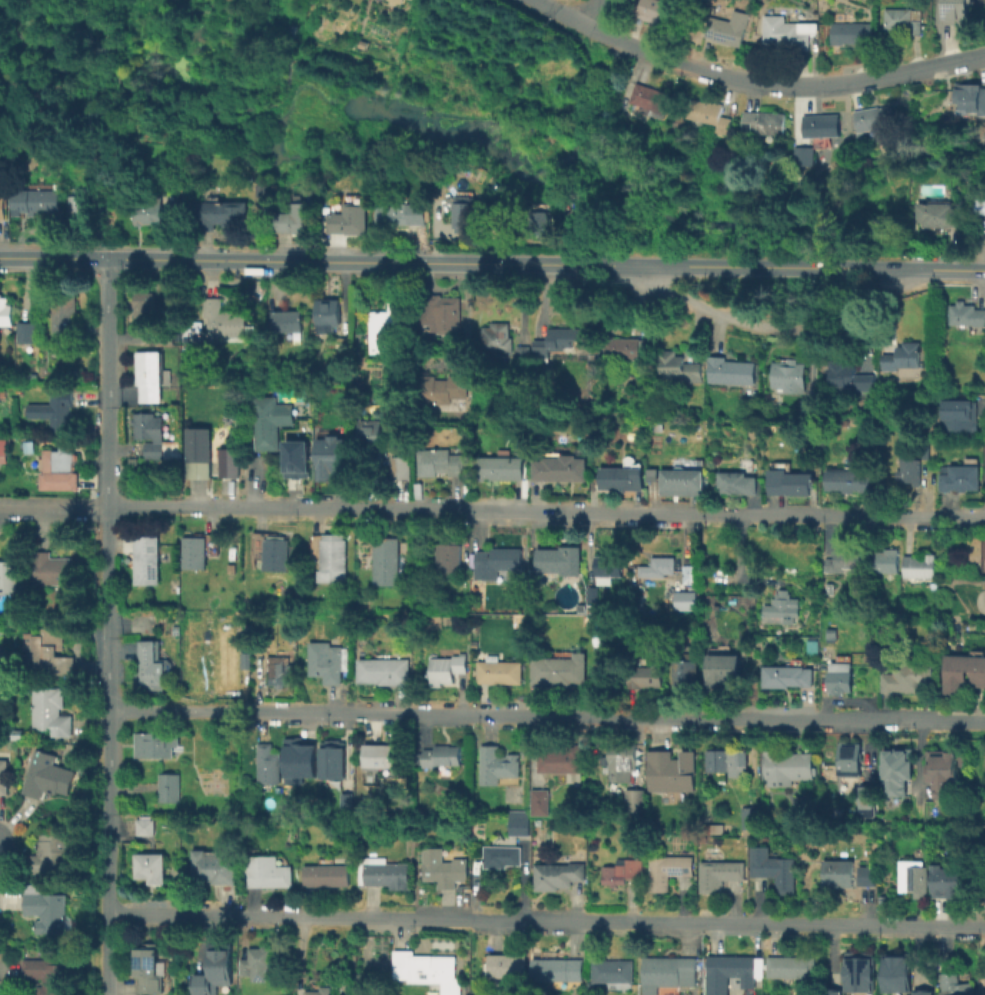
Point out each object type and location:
building: (395, 1)
building: (657, 11)
building: (957, 11)
road: (601, 15)
building: (904, 19)
building: (725, 31)
building: (786, 32)
building: (850, 32)
road: (752, 82)
building: (970, 97)
building: (651, 98)
building: (709, 114)
building: (874, 117)
building: (764, 122)
building: (821, 125)
road: (601, 153)
building: (804, 155)
building: (262, 190)
building: (101, 191)
building: (39, 200)
building: (981, 206)
road: (592, 207)
building: (3, 208)
building: (82, 209)
building: (150, 212)
building: (466, 213)
building: (221, 214)
building: (401, 214)
building: (942, 214)
building: (297, 218)
building: (350, 219)
building: (539, 223)
road: (571, 238)
road: (54, 258)
road: (546, 264)
building: (146, 306)
building: (6, 311)
building: (442, 311)
building: (329, 314)
building: (966, 314)
building: (66, 315)
building: (222, 320)
building: (286, 321)
road: (773, 323)
building: (387, 325)
building: (193, 326)
building: (27, 332)
building: (165, 337)
building: (496, 339)
building: (554, 342)
building: (624, 348)
building: (522, 353)
building: (902, 358)
building: (676, 368)
building: (732, 372)
building: (151, 375)
building: (789, 376)
building: (848, 377)
building: (443, 389)
building: (808, 405)
building: (56, 410)
building: (959, 416)
building: (272, 421)
building: (154, 436)
building: (373, 436)
building: (28, 447)
building: (4, 449)
building: (199, 452)
building: (296, 458)
building: (63, 459)
building: (338, 459)
building: (442, 462)
building: (230, 463)
building: (817, 466)
building: (402, 467)
building: (501, 467)
building: (560, 468)
building: (908, 471)
building: (649, 474)
building: (621, 478)
building: (960, 478)
building: (681, 479)
building: (847, 481)
building: (736, 483)
building: (791, 483)
road: (492, 512)
building: (198, 549)
building: (273, 553)
building: (331, 554)
building: (451, 556)
building: (148, 560)
building: (386, 560)
building: (498, 562)
building: (560, 562)
building: (843, 562)
building: (884, 562)
building: (659, 567)
building: (920, 567)
building: (609, 568)
building: (52, 569)
building: (691, 573)
building: (7, 578)
building: (593, 594)
building: (683, 600)
building: (984, 602)
building: (513, 603)
building: (782, 608)
building: (12, 622)
road: (107, 626)
building: (814, 647)
building: (51, 653)
building: (325, 661)
building: (246, 662)
building: (151, 667)
building: (448, 669)
building: (278, 670)
building: (384, 670)
building: (688, 670)
building: (499, 671)
building: (557, 672)
building: (727, 672)
building: (963, 673)
building: (645, 676)
building: (788, 676)
building: (906, 677)
building: (840, 678)
building: (50, 711)
road: (546, 716)
building: (156, 744)
building: (439, 756)
building: (385, 757)
building: (330, 759)
building: (622, 760)
building: (300, 761)
building: (850, 761)
building: (563, 762)
building: (268, 764)
building: (497, 765)
building: (736, 765)
building: (783, 768)
building: (672, 771)
building: (898, 773)
building: (945, 775)
building: (46, 776)
building: (3, 778)
building: (169, 787)
building: (539, 801)
building: (634, 802)
building: (868, 802)
building: (752, 818)
building: (519, 824)
building: (145, 826)
building: (52, 853)
building: (502, 856)
building: (215, 865)
building: (151, 866)
building: (443, 868)
building: (773, 868)
building: (622, 870)
building: (667, 870)
building: (383, 872)
building: (718, 873)
building: (838, 873)
building: (326, 875)
building: (558, 875)
building: (866, 875)
building: (268, 876)
building: (913, 877)
building: (949, 886)
building: (50, 913)
road: (546, 920)
building: (256, 960)
building: (504, 964)
building: (790, 966)
building: (215, 967)
building: (555, 969)
building: (149, 970)
building: (428, 971)
building: (613, 971)
building: (729, 972)
building: (897, 972)
building: (667, 973)
building: (856, 973)
building: (49, 975)
building: (954, 984)
building: (593, 988)
building: (318, 993)
building: (923, 993)

